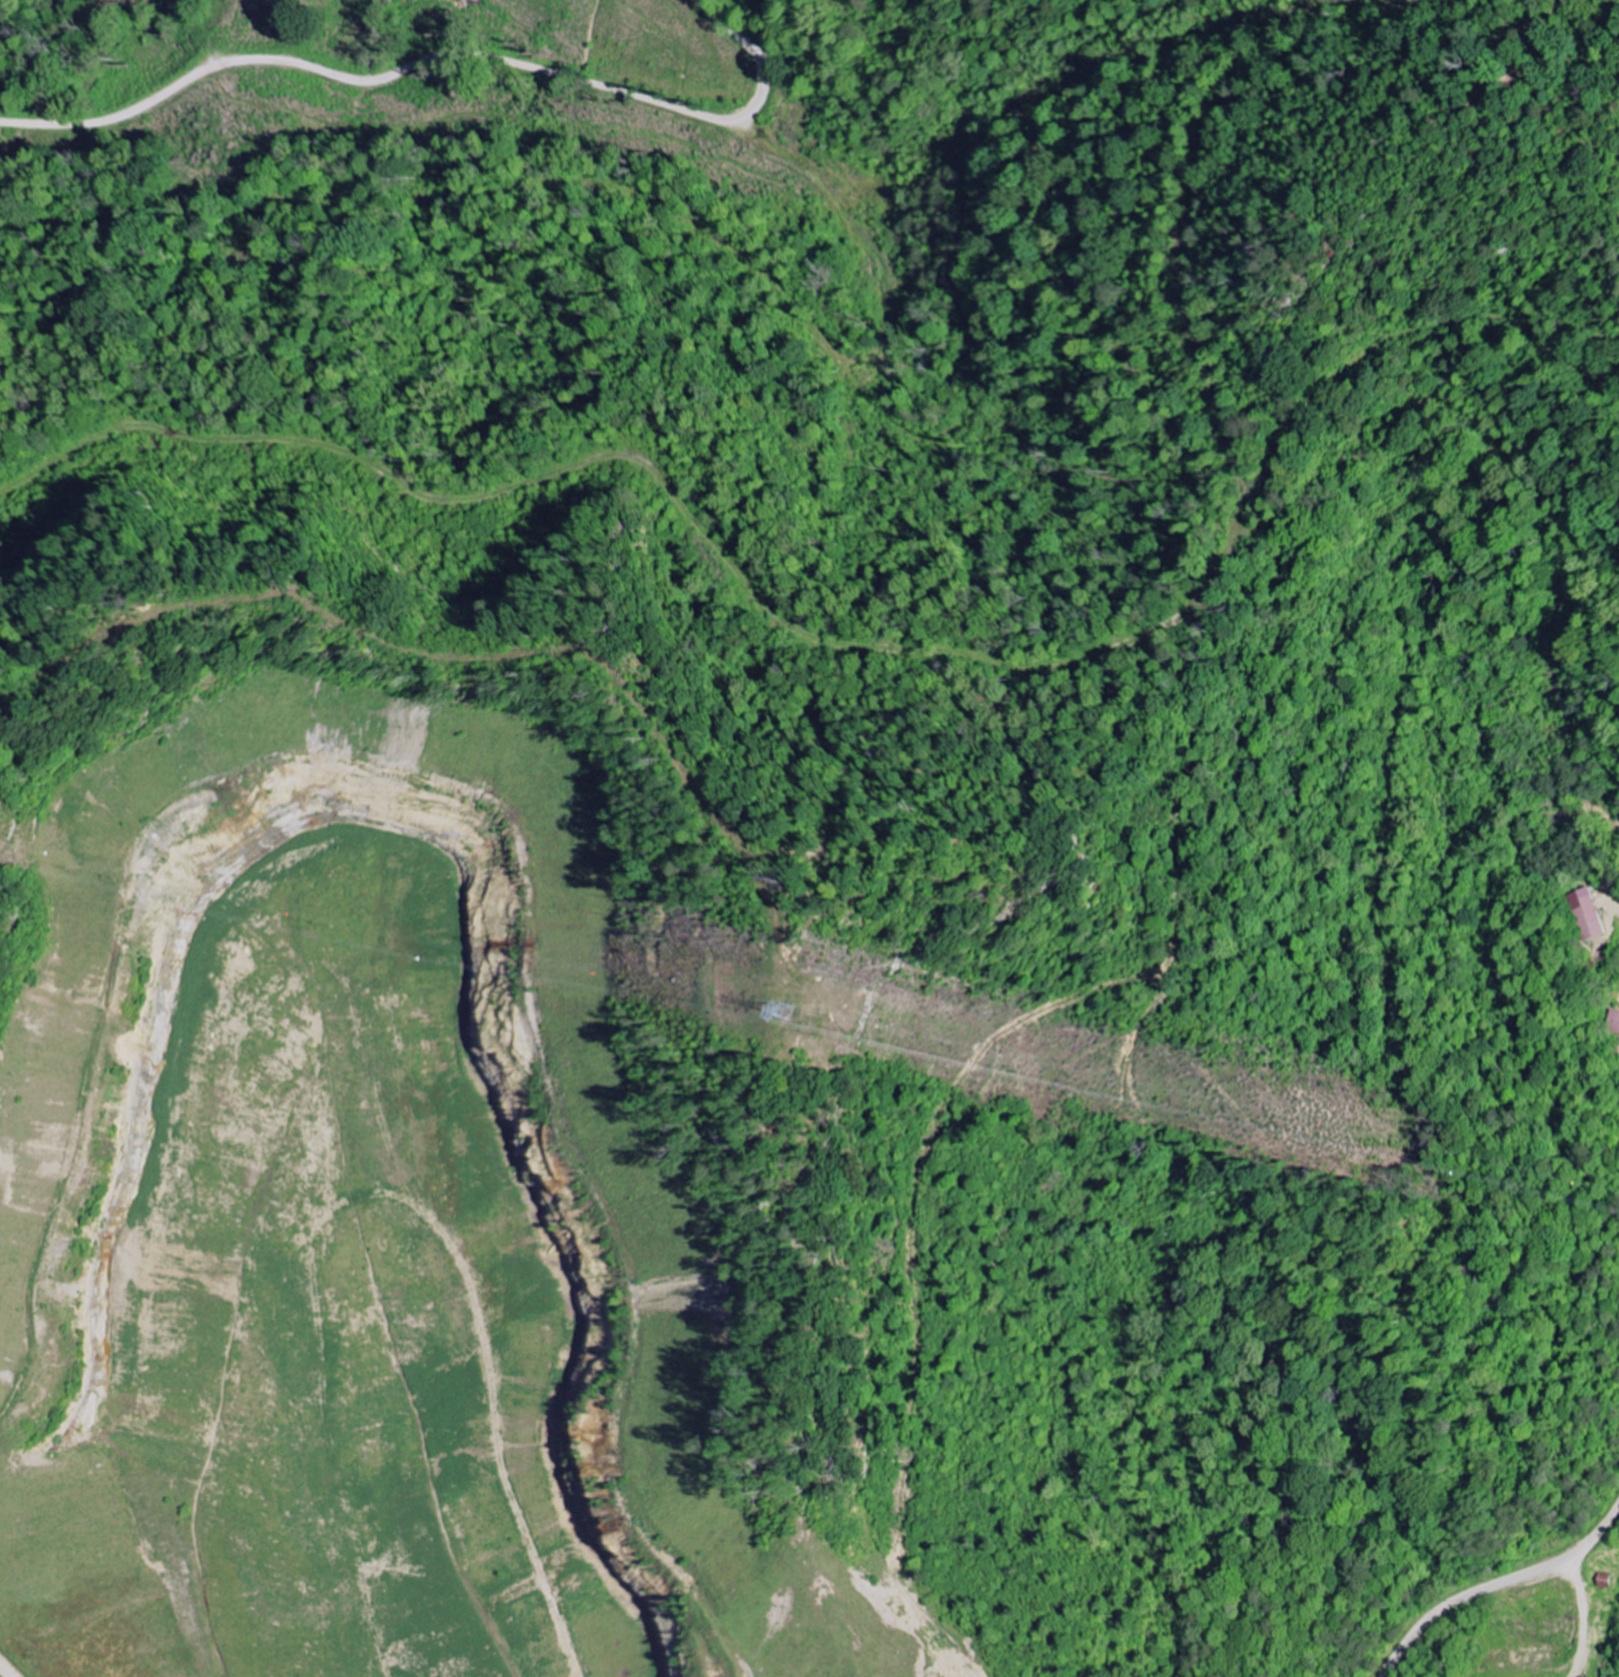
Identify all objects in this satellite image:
road: (442, 56)
building: (1587, 914)
power tower: (743, 1013)
building: (1615, 1022)
road: (1496, 1585)

